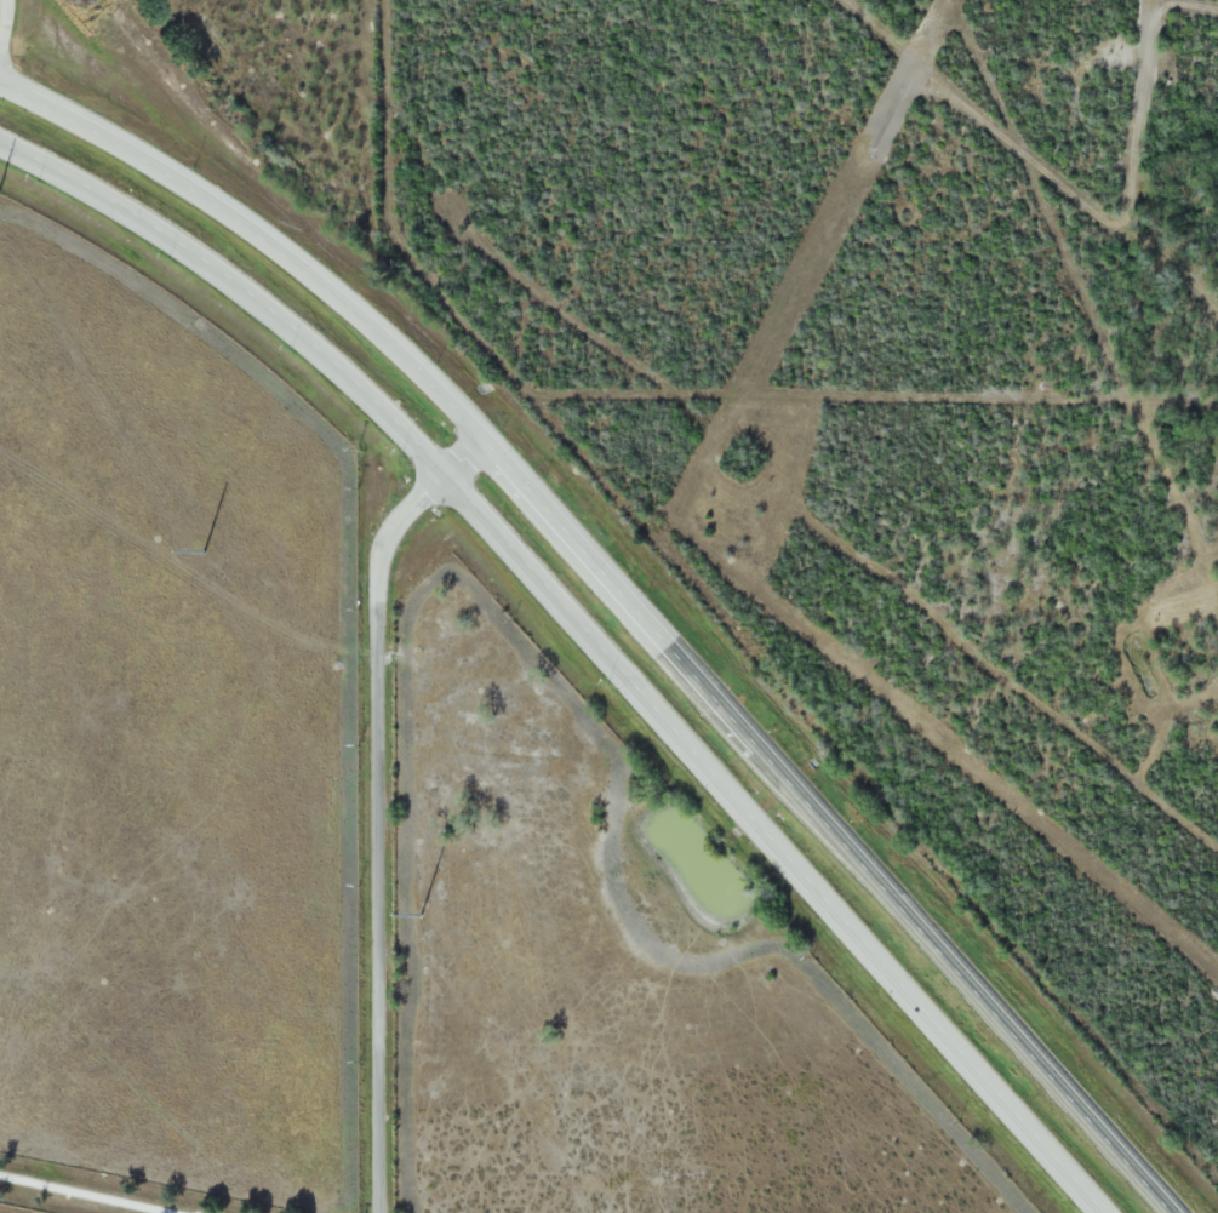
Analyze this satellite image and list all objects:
road: (5, 16)
road: (230, 219)
power tower: (204, 551)
road: (587, 635)
road: (813, 797)
road: (379, 802)
power tower: (422, 917)
road: (85, 1195)

